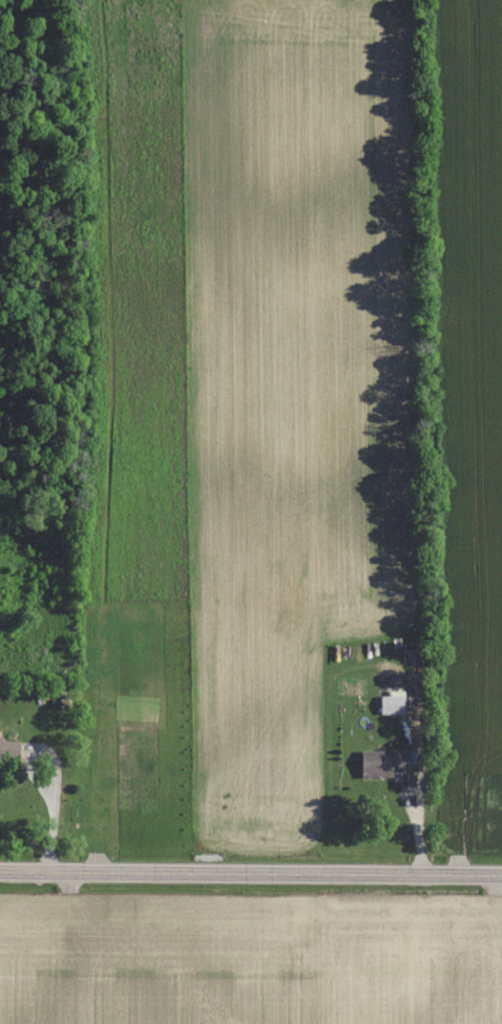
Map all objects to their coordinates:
building: (392, 704)
building: (9, 747)
building: (384, 764)
road: (53, 810)
road: (251, 872)

